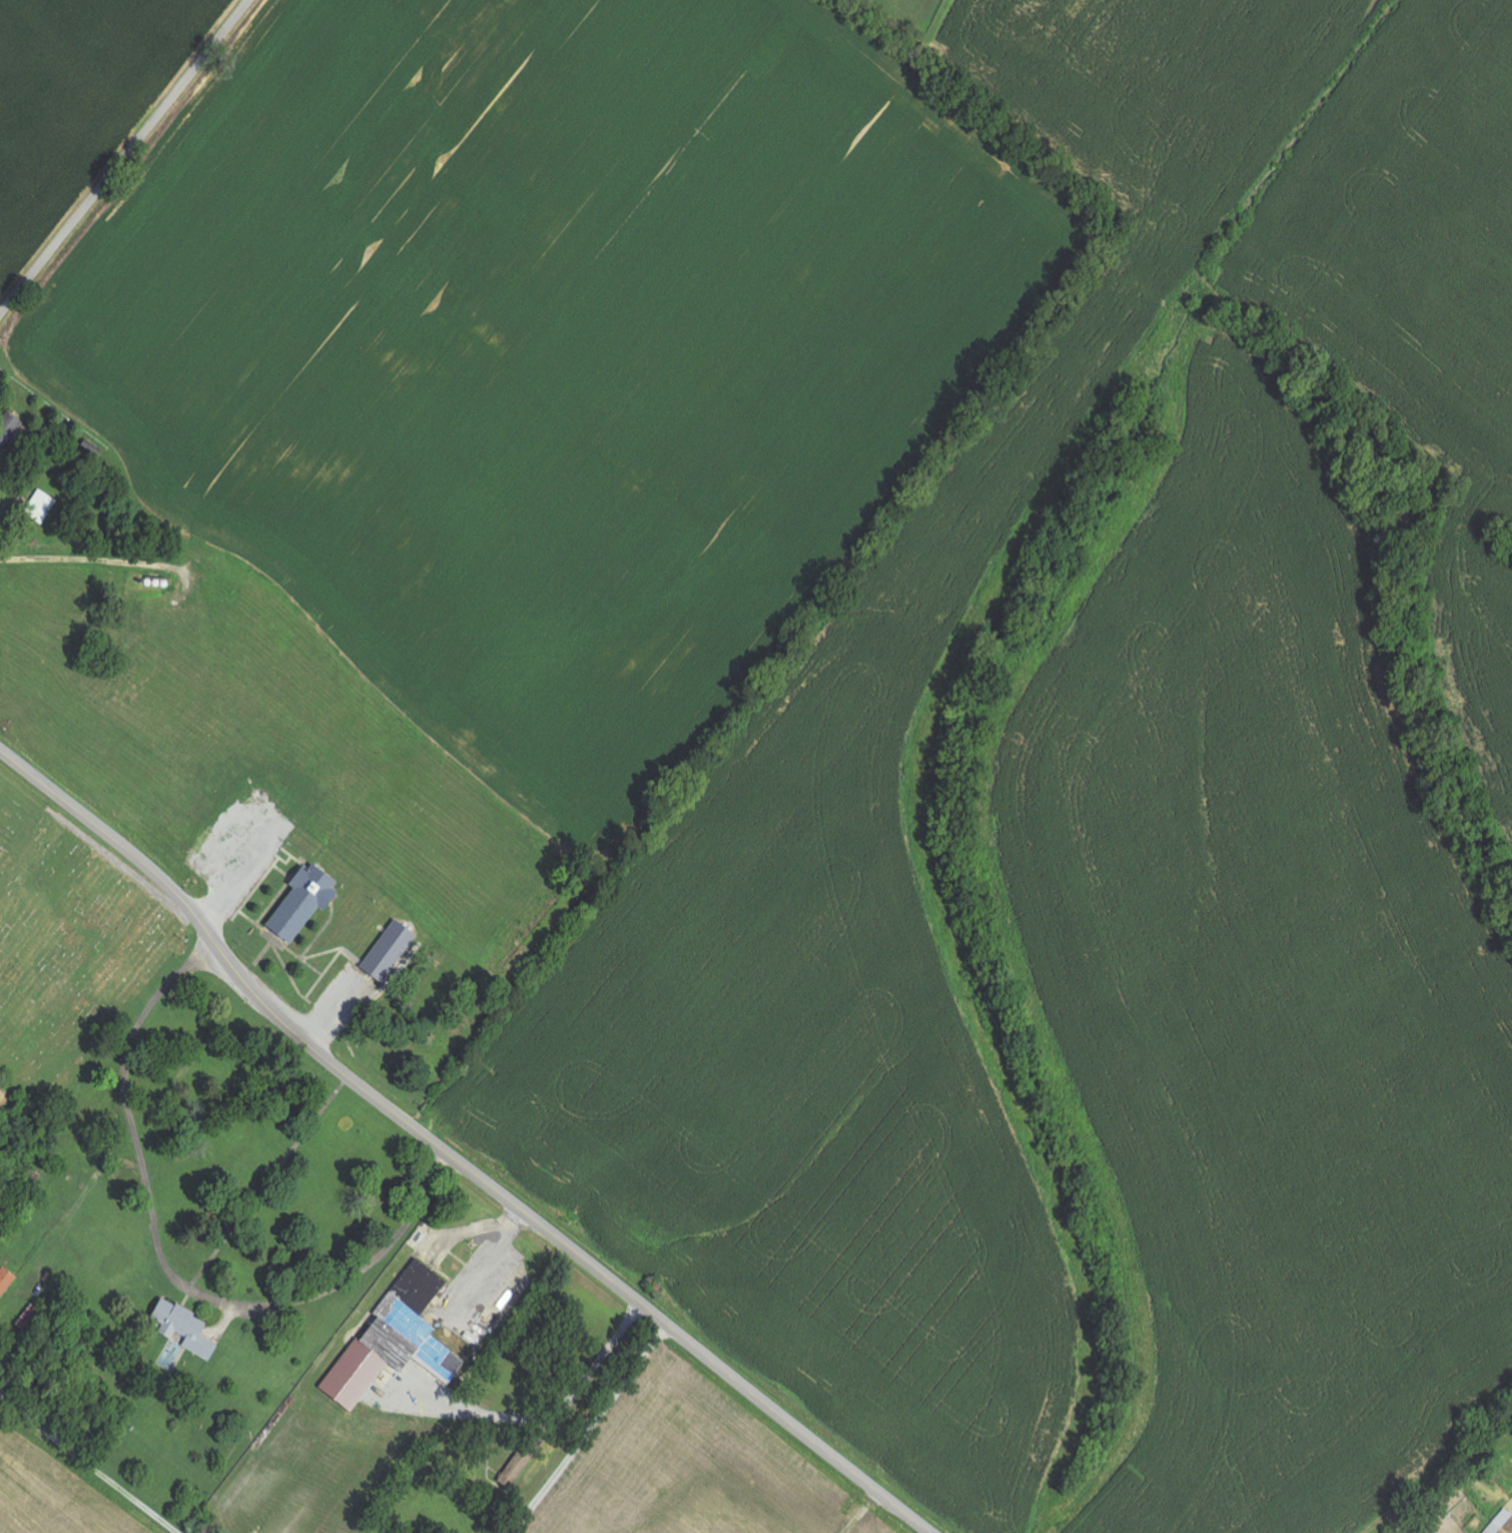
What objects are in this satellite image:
road: (124, 158)
building: (42, 505)
road: (228, 887)
building: (304, 901)
building: (389, 950)
park: (75, 958)
road: (450, 1156)
road: (184, 1278)
building: (185, 1328)
building: (395, 1341)
road: (863, 1513)

